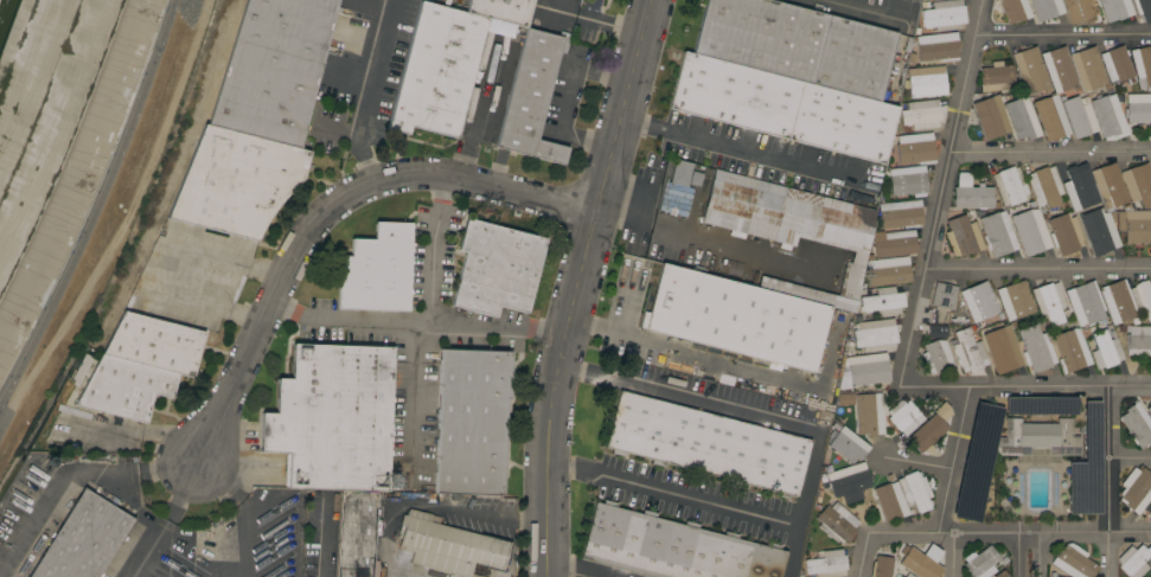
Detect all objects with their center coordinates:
building: (1046, 8)
building: (1115, 8)
building: (1143, 8)
building: (501, 9)
building: (1015, 9)
building: (1081, 9)
river: (2, 11)
road: (861, 11)
building: (944, 15)
road: (1063, 31)
building: (797, 44)
building: (936, 46)
building: (1142, 63)
building: (1117, 64)
building: (274, 69)
building: (1059, 69)
building: (1088, 69)
building: (437, 70)
building: (1030, 70)
building: (996, 77)
building: (926, 79)
road: (375, 95)
building: (531, 98)
road: (565, 100)
building: (782, 107)
building: (1138, 109)
building: (922, 114)
building: (993, 115)
building: (1108, 116)
building: (1021, 117)
building: (1080, 117)
building: (1053, 120)
road: (742, 148)
building: (915, 148)
road: (1050, 150)
building: (680, 173)
building: (908, 180)
building: (1107, 181)
building: (235, 182)
building: (1078, 184)
building: (1138, 184)
building: (1010, 185)
building: (1044, 187)
road: (941, 193)
building: (971, 193)
road: (95, 205)
building: (683, 205)
road: (324, 211)
building: (784, 212)
building: (900, 213)
road: (656, 216)
building: (1137, 226)
building: (1030, 232)
building: (1102, 232)
building: (997, 233)
building: (1064, 233)
building: (963, 236)
building: (895, 244)
road: (433, 252)
road: (166, 264)
road: (1038, 267)
building: (495, 268)
building: (376, 270)
building: (888, 271)
road: (581, 286)
building: (942, 295)
building: (1015, 300)
building: (1126, 300)
building: (883, 301)
building: (839, 302)
building: (980, 302)
building: (1049, 302)
building: (1085, 302)
building: (736, 318)
road: (411, 323)
road: (614, 326)
road: (493, 333)
building: (875, 334)
building: (1137, 340)
building: (1036, 348)
building: (1070, 350)
building: (1106, 350)
building: (968, 351)
building: (1003, 352)
building: (936, 355)
building: (140, 365)
building: (870, 367)
road: (1025, 386)
building: (1032, 406)
building: (1149, 410)
building: (869, 413)
road: (757, 416)
building: (903, 416)
building: (333, 417)
building: (471, 421)
building: (1137, 425)
building: (929, 429)
building: (1037, 438)
building: (706, 444)
building: (849, 444)
road: (953, 459)
road: (1130, 459)
road: (915, 462)
road: (166, 468)
road: (1108, 482)
building: (850, 483)
road: (217, 485)
building: (1136, 489)
road: (53, 491)
building: (915, 491)
road: (672, 492)
road: (181, 494)
building: (890, 501)
building: (1150, 509)
building: (1150, 512)
road: (242, 520)
building: (837, 522)
road: (161, 530)
road: (1010, 531)
building: (356, 533)
building: (82, 539)
road: (194, 539)
road: (326, 539)
building: (448, 545)
building: (673, 547)
road: (1017, 553)
road: (1042, 553)
road: (863, 554)
road: (955, 554)
building: (1134, 560)
building: (921, 562)
building: (1073, 562)
building: (980, 563)
building: (826, 564)
building: (881, 566)
road: (580, 568)
building: (908, 575)
building: (1000, 575)
building: (897, 576)
building: (990, 576)

